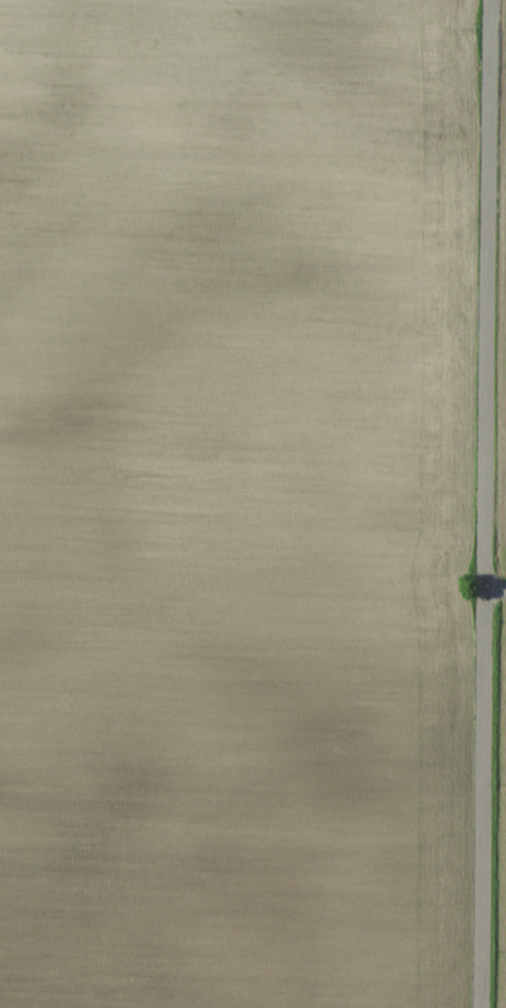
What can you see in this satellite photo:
road: (489, 292)
road: (497, 584)
road: (486, 796)

